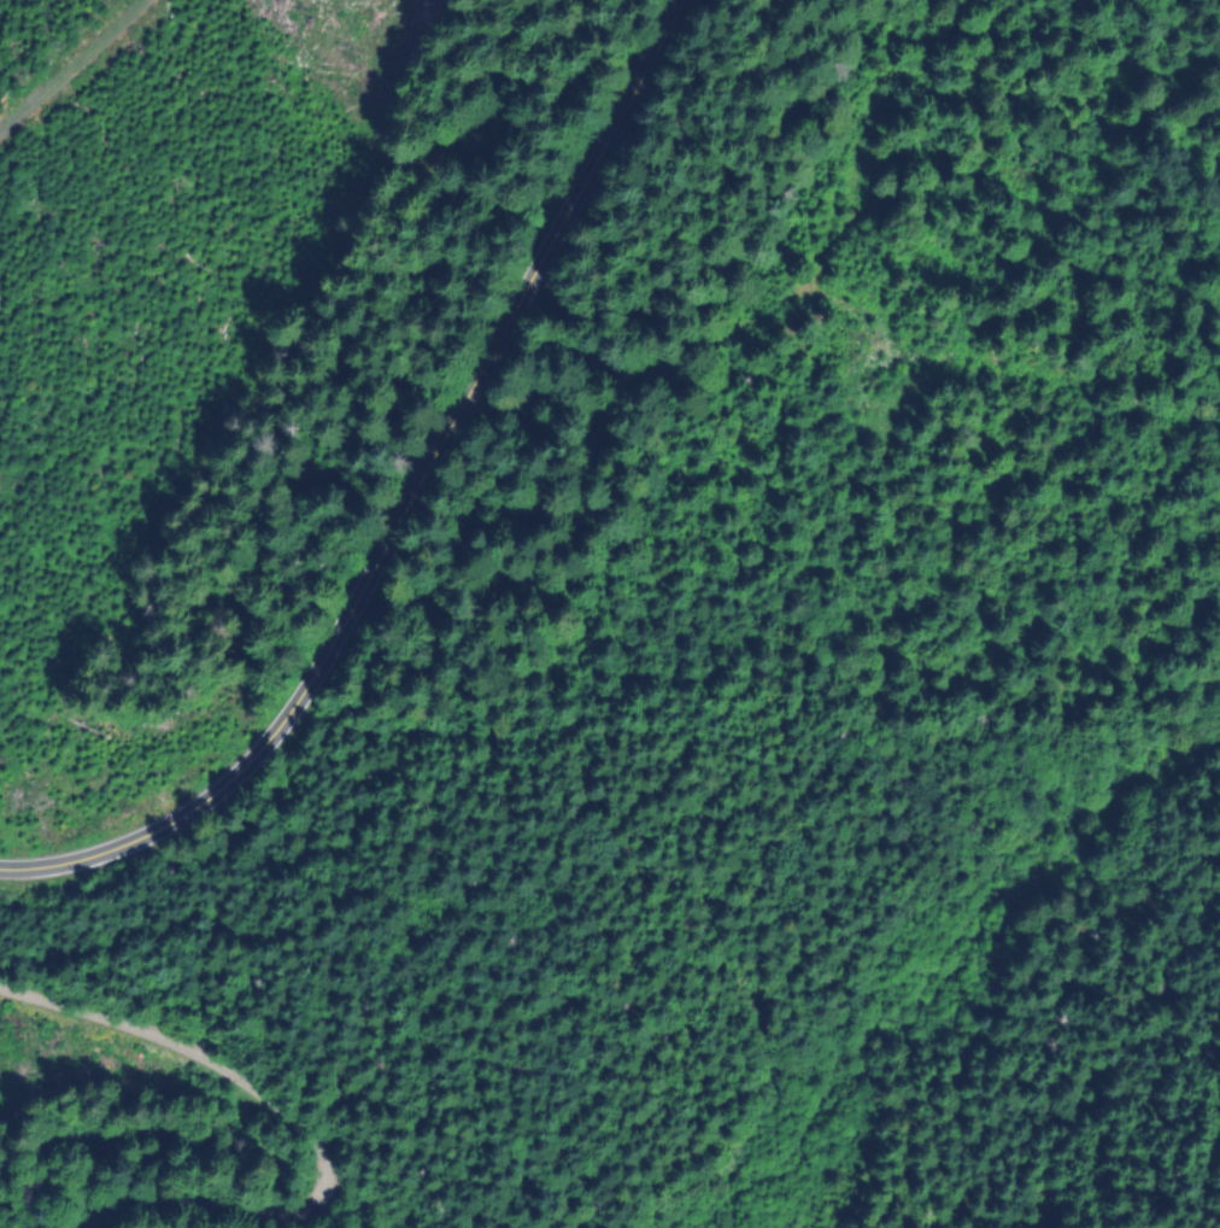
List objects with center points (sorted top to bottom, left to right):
road: (405, 511)
road: (210, 1053)
road: (166, 1199)

